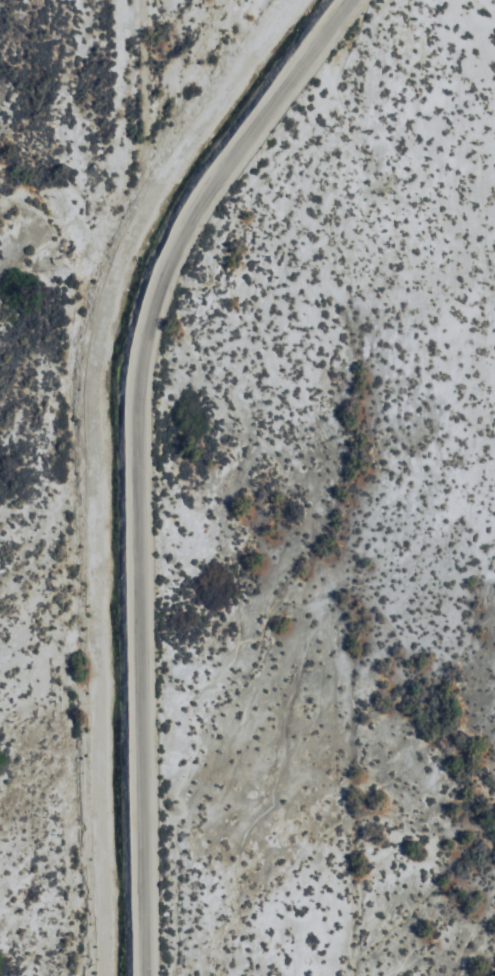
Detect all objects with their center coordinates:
road: (164, 462)

